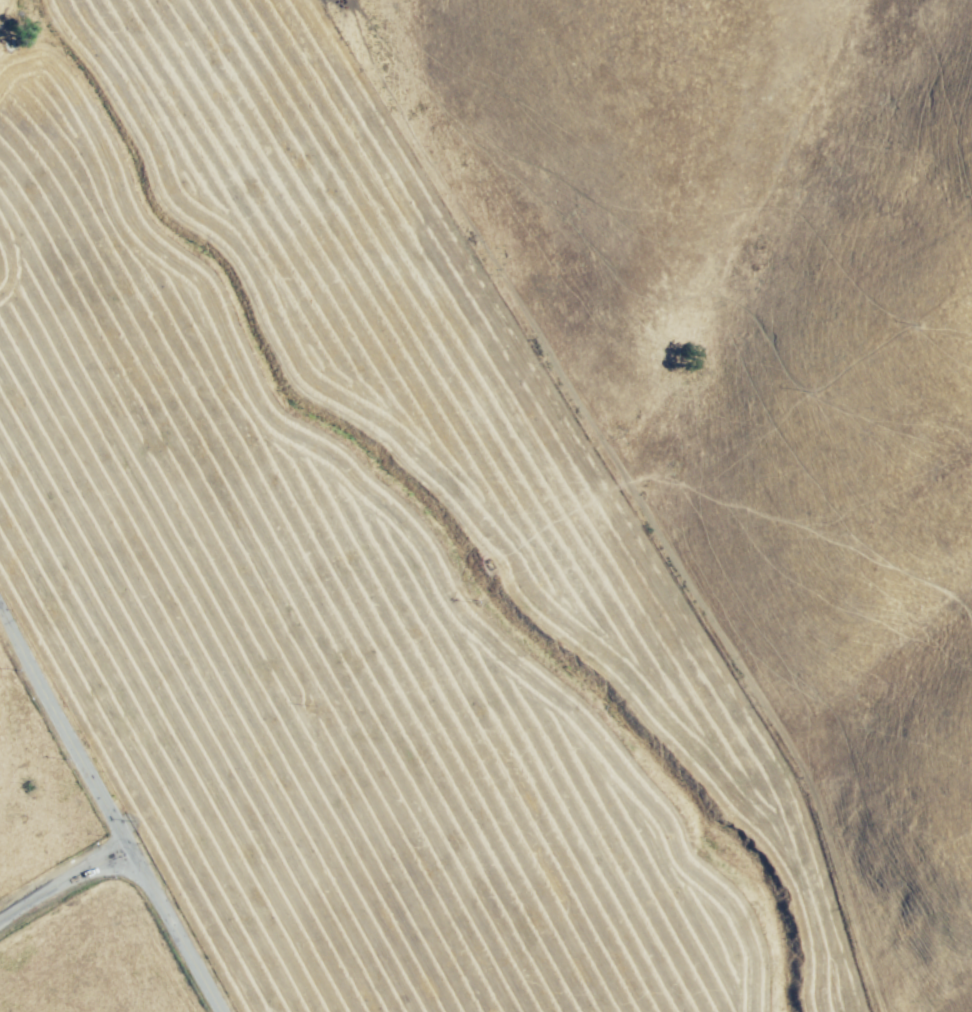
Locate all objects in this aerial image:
crop: (355, 567)
road: (56, 744)
road: (62, 881)
road: (163, 930)

